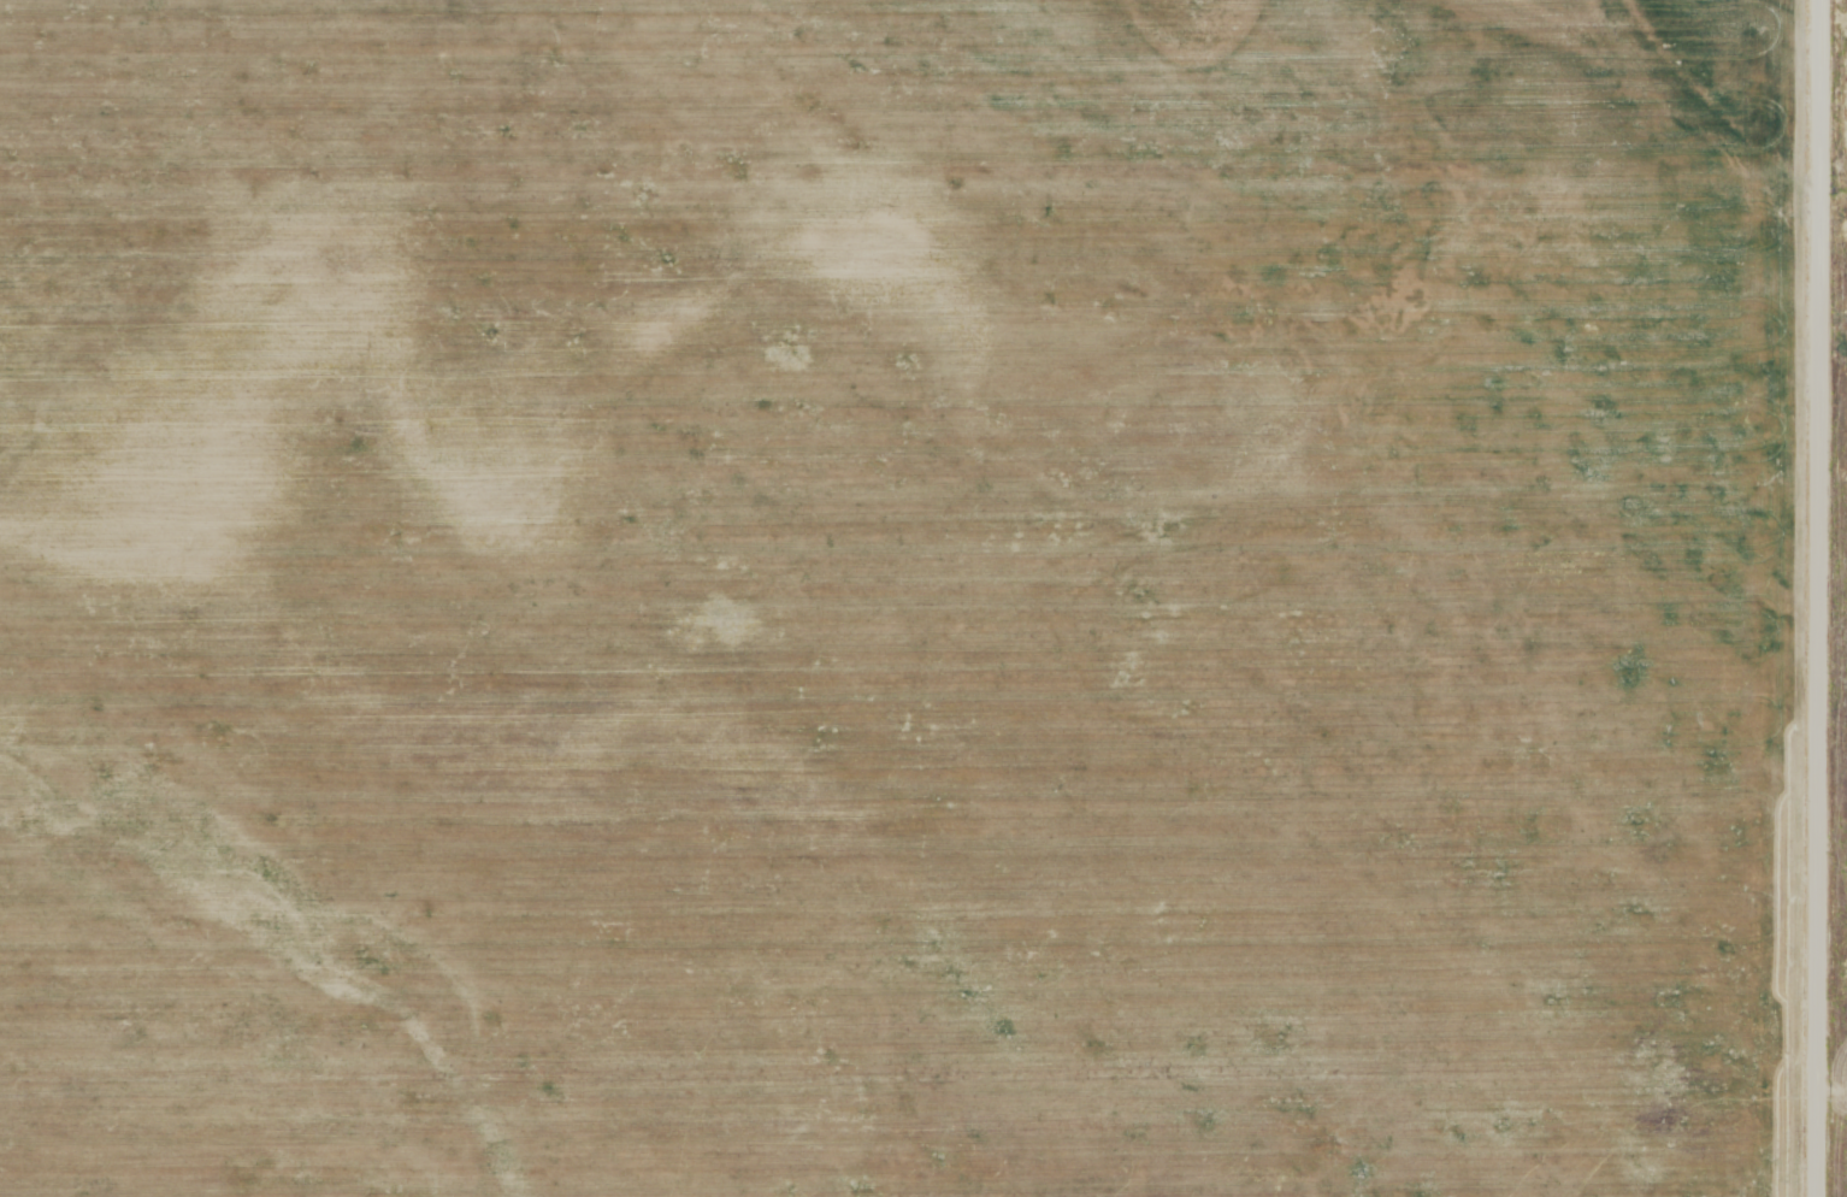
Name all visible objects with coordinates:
road: (1821, 598)

